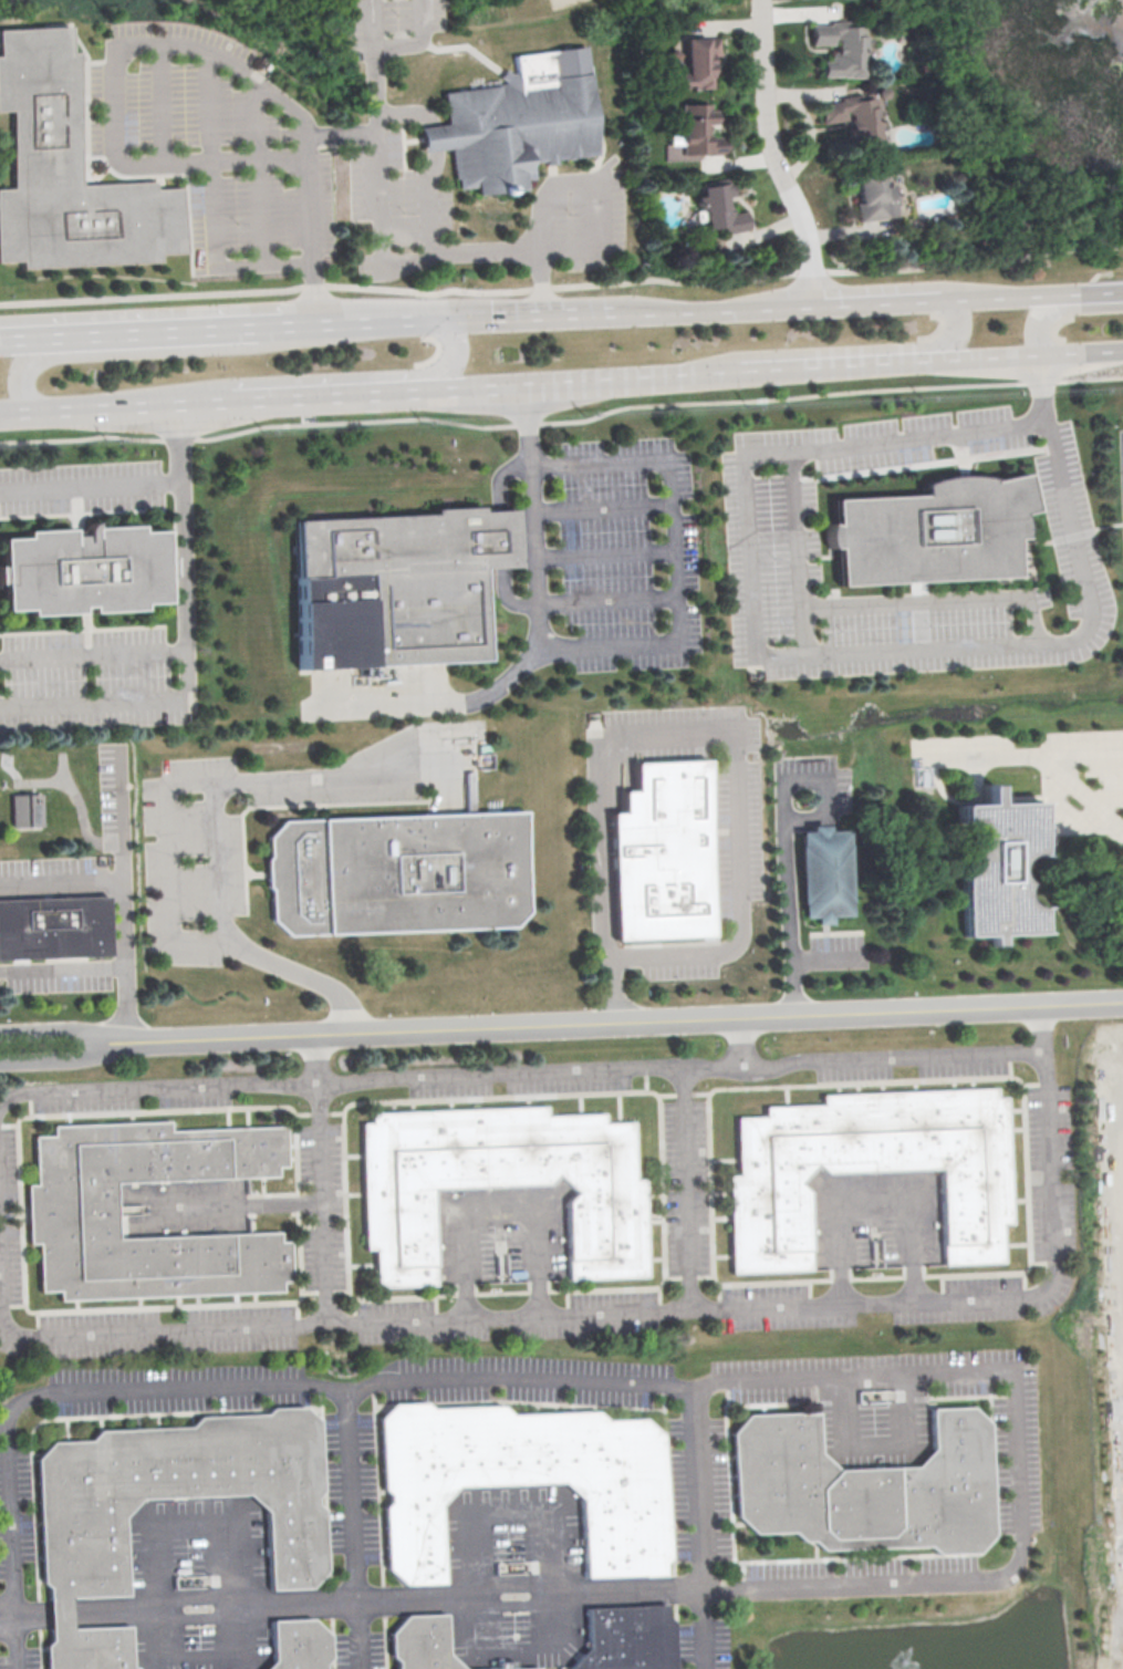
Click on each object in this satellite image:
road: (766, 0)
road: (373, 22)
parking lot: (393, 25)
parking lot: (183, 37)
road: (168, 41)
road: (418, 41)
building: (840, 48)
building: (699, 60)
road: (163, 101)
road: (209, 105)
building: (856, 117)
road: (256, 120)
building: (516, 123)
road: (968, 128)
building: (697, 131)
road: (341, 134)
parking lot: (217, 154)
road: (779, 155)
road: (376, 156)
road: (434, 159)
building: (67, 174)
building: (877, 196)
parking lot: (394, 203)
building: (726, 208)
road: (260, 211)
road: (606, 212)
parking lot: (591, 217)
road: (450, 255)
road: (214, 261)
road: (561, 286)
road: (1100, 290)
road: (1013, 296)
road: (883, 302)
road: (714, 308)
road: (526, 312)
road: (1041, 313)
traffic signals: (439, 315)
road: (357, 319)
road: (164, 330)
road: (24, 336)
road: (840, 350)
road: (147, 352)
road: (1027, 355)
road: (832, 365)
road: (337, 377)
road: (632, 377)
road: (477, 387)
road: (366, 394)
road: (267, 400)
road: (127, 406)
road: (14, 413)
road: (561, 421)
parking lot: (1020, 437)
parking lot: (1121, 463)
road: (499, 476)
road: (91, 484)
parking lot: (81, 486)
road: (602, 506)
parking lot: (1071, 519)
building: (929, 532)
road: (500, 538)
road: (673, 549)
road: (604, 551)
road: (797, 551)
road: (185, 552)
parking lot: (627, 553)
parking lot: (771, 553)
building: (90, 570)
building: (402, 585)
road: (505, 600)
road: (606, 600)
road: (938, 600)
road: (540, 632)
road: (94, 653)
road: (813, 653)
parking lot: (89, 680)
road: (96, 706)
road: (695, 730)
road: (1026, 753)
parking lot: (1038, 756)
parking lot: (812, 789)
road: (1084, 792)
road: (829, 794)
parking lot: (115, 796)
road: (1106, 798)
building: (25, 809)
parking lot: (739, 829)
road: (169, 831)
building: (661, 854)
parking lot: (198, 863)
building: (1005, 868)
building: (830, 872)
building: (396, 874)
road: (61, 879)
road: (123, 894)
road: (791, 894)
building: (52, 929)
parking lot: (836, 951)
road: (825, 956)
parking lot: (678, 961)
road: (62, 967)
road: (303, 974)
parking lot: (58, 976)
road: (613, 1022)
road: (53, 1029)
road: (864, 1056)
road: (54, 1059)
road: (370, 1077)
road: (1122, 1132)
building: (869, 1170)
road: (321, 1178)
building: (500, 1184)
road: (686, 1191)
road: (872, 1200)
road: (501, 1203)
parking lot: (543, 1203)
building: (69, 1211)
road: (630, 1313)
road: (214, 1386)
road: (874, 1443)
building: (522, 1482)
building: (863, 1489)
parking lot: (505, 1503)
road: (698, 1528)
building: (80, 1547)
road: (553, 1548)
road: (235, 1572)
road: (978, 1575)
road: (56, 1613)
road: (29, 1614)
road: (6, 1629)
road: (12, 1635)
building: (626, 1639)
building: (418, 1644)
building: (295, 1646)
building: (501, 1666)
building: (520, 1668)

